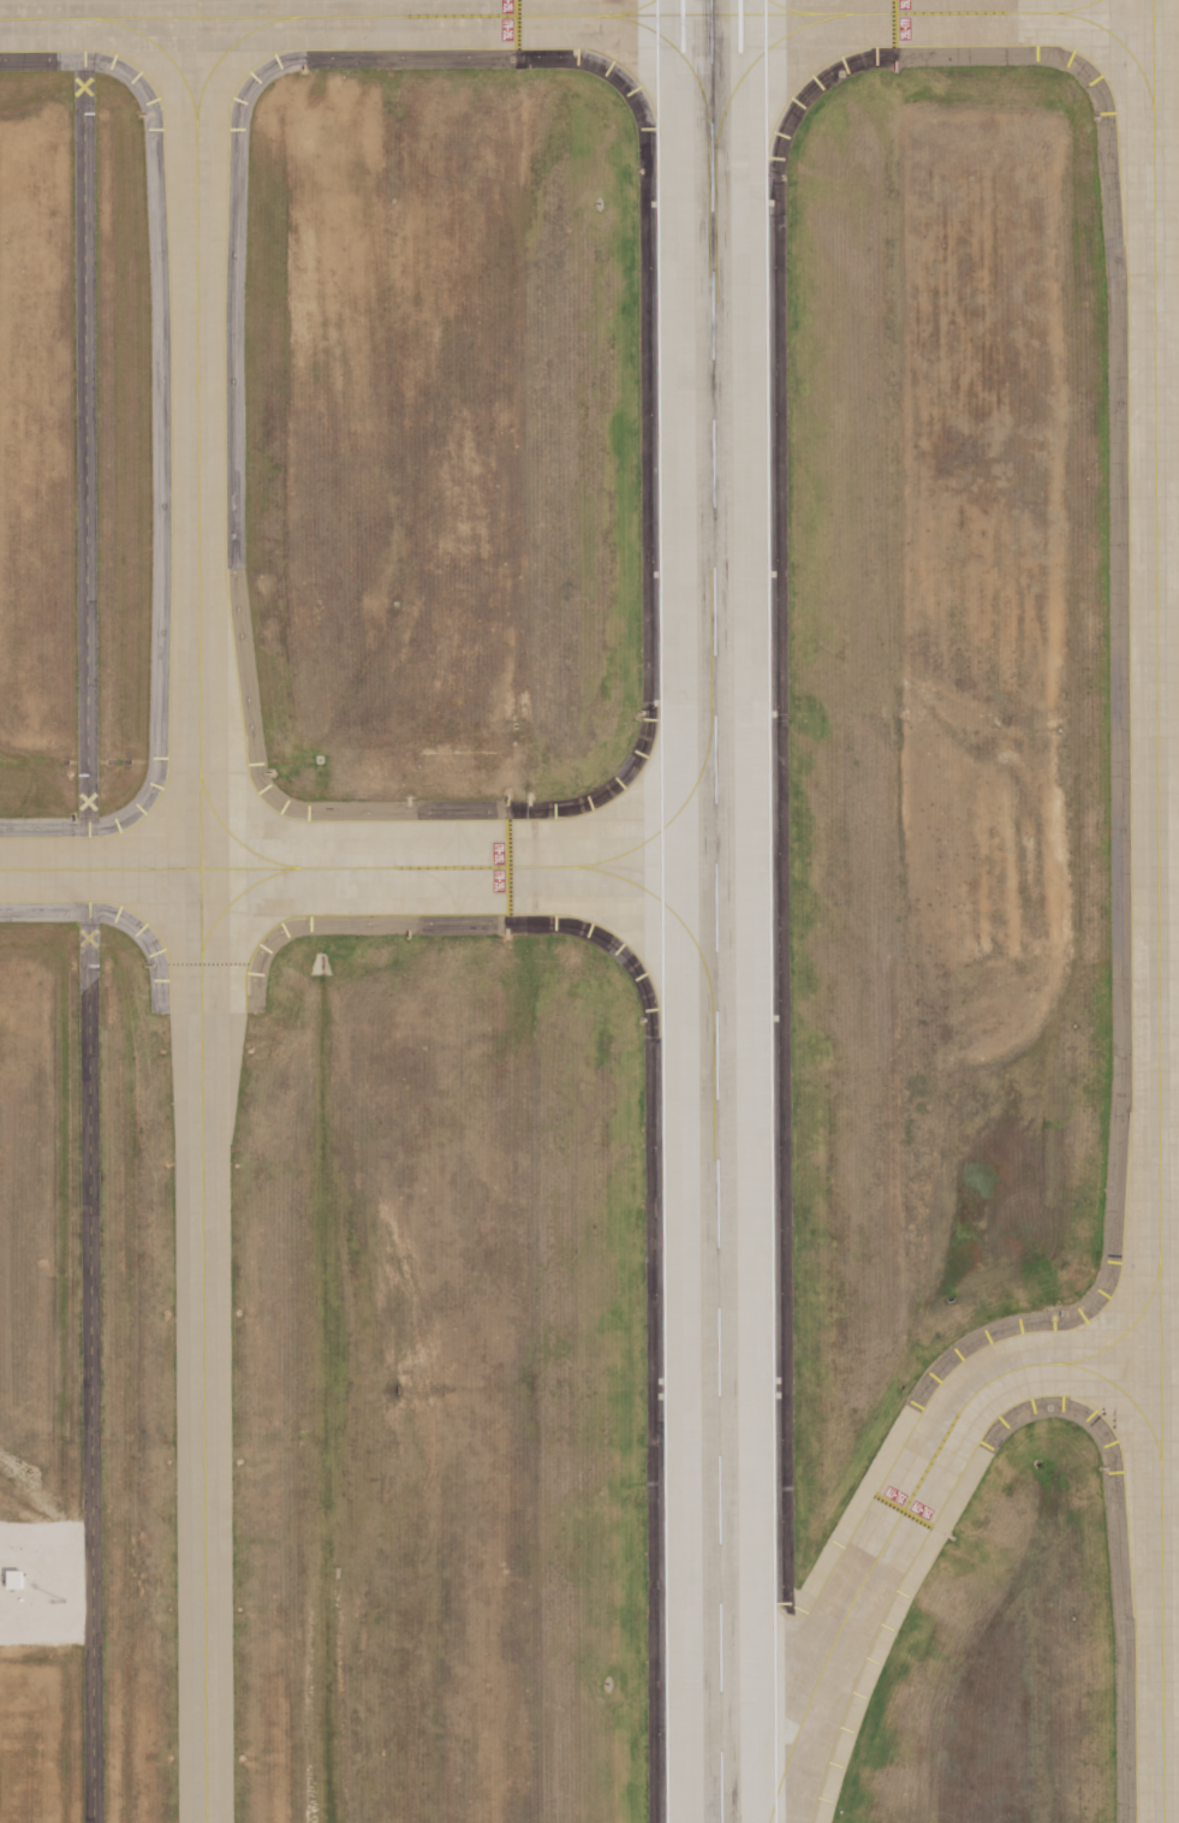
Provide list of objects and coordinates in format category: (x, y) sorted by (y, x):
airport taxiway: (576, 14)
airport taxiway: (357, 866)
road: (87, 910)
airport taxiway: (1157, 910)
airport: (589, 911)
airport runway: (715, 911)
airport taxiway: (200, 920)
airport taxiway: (1127, 1330)
airport taxiway: (1125, 1395)
road: (46, 1484)
airport taxiway: (875, 1560)
building: (16, 1581)

